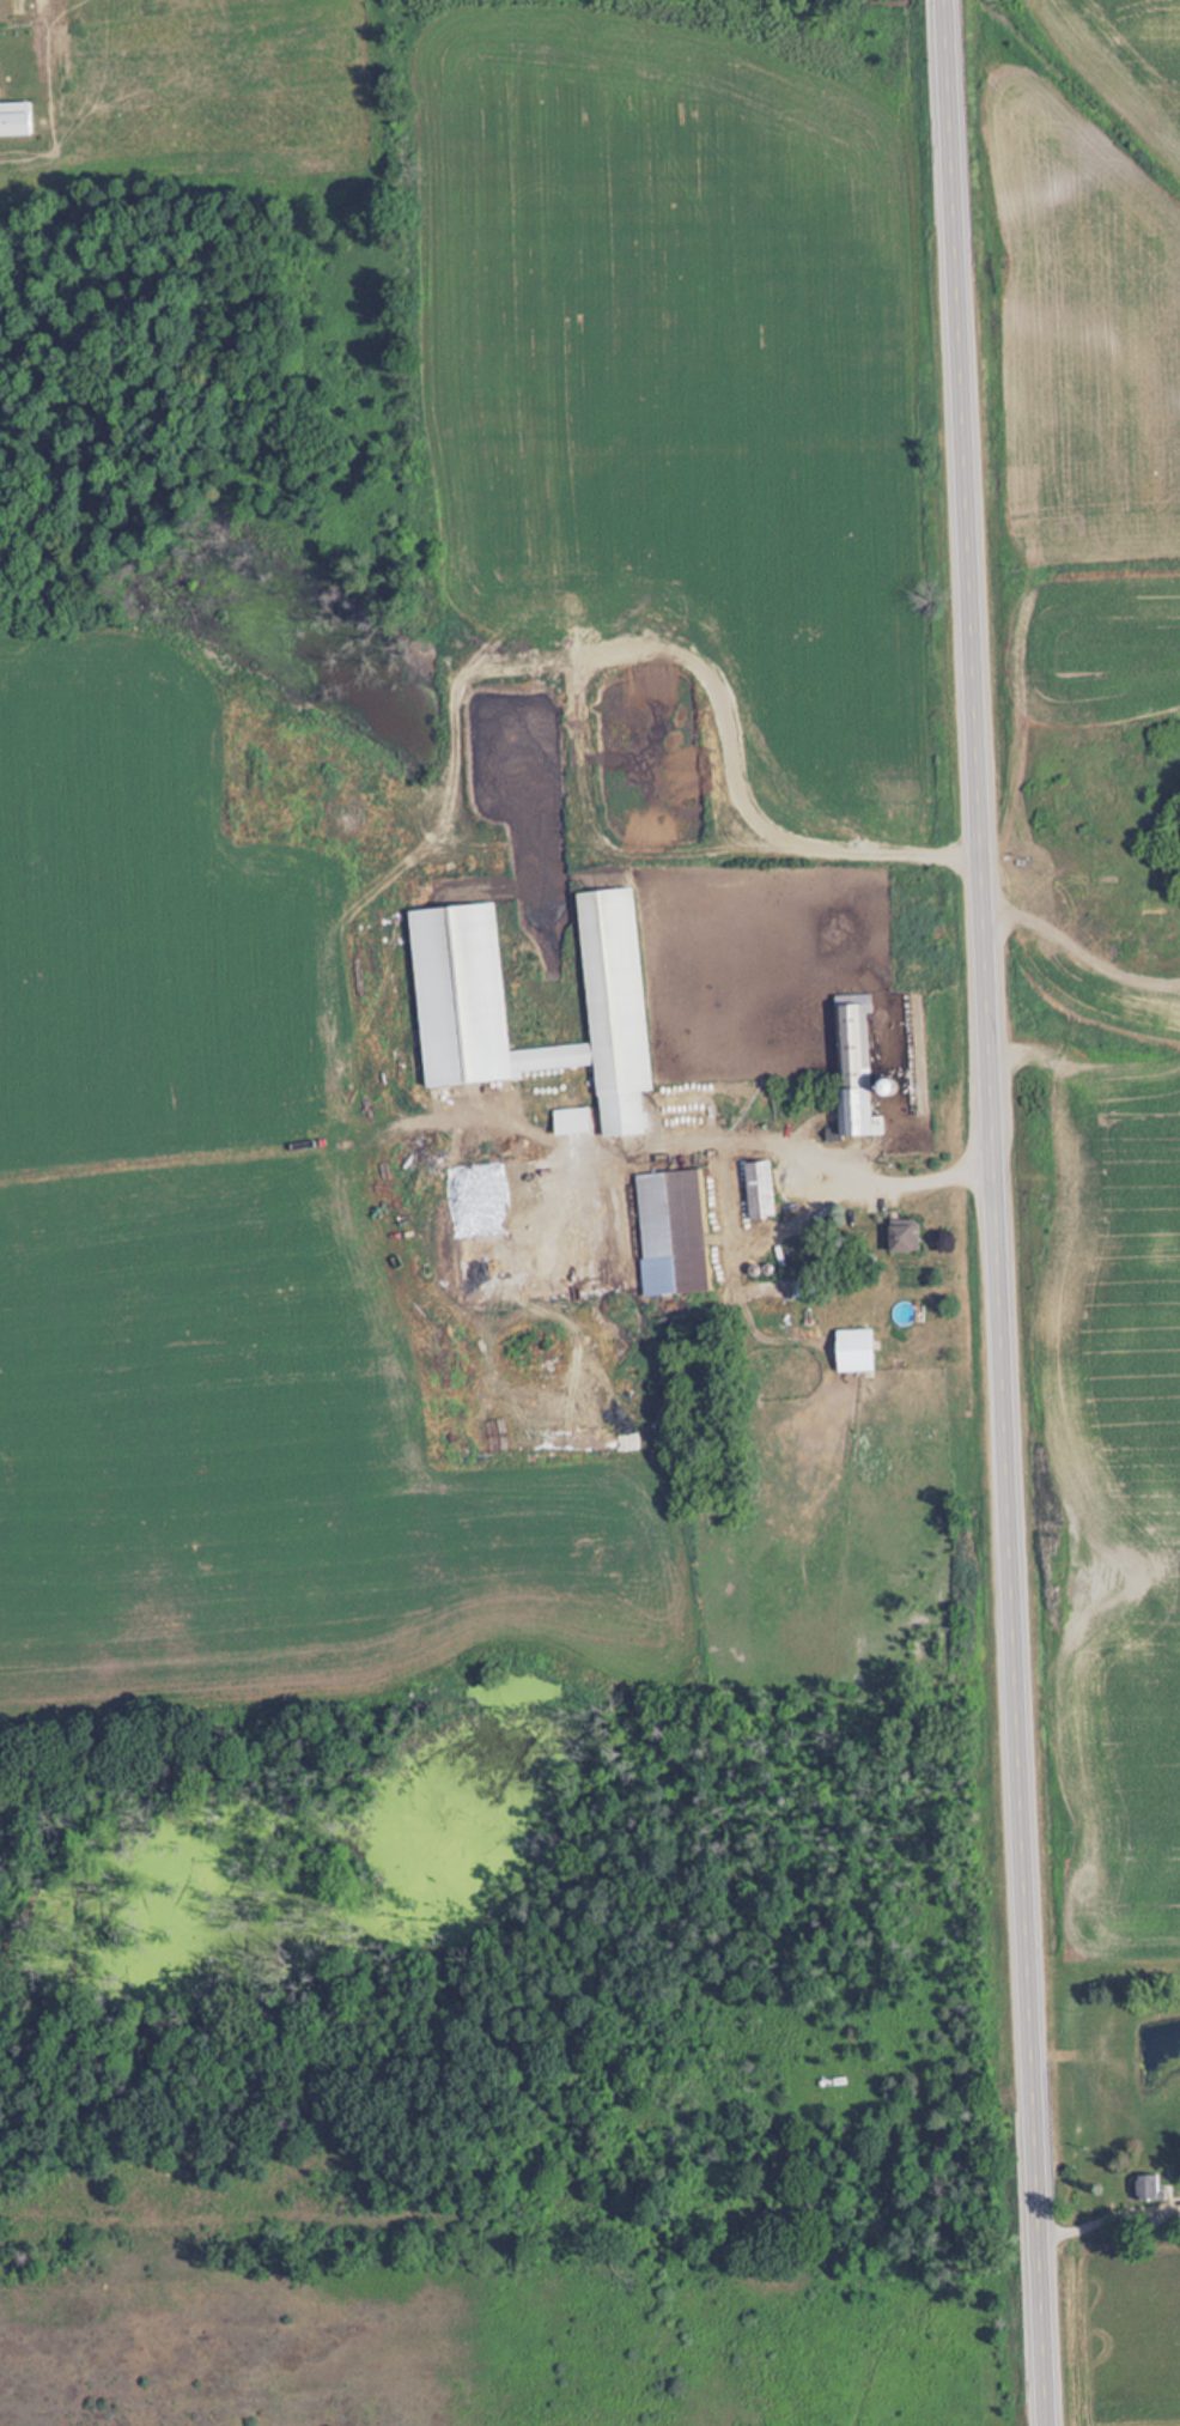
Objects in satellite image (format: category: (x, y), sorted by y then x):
building: (614, 1008)
building: (851, 1069)
building: (758, 1190)
road: (992, 1213)
building: (673, 1224)
building: (901, 1236)
building: (773, 1291)
building: (852, 1351)
building: (831, 2081)
building: (1145, 2185)

